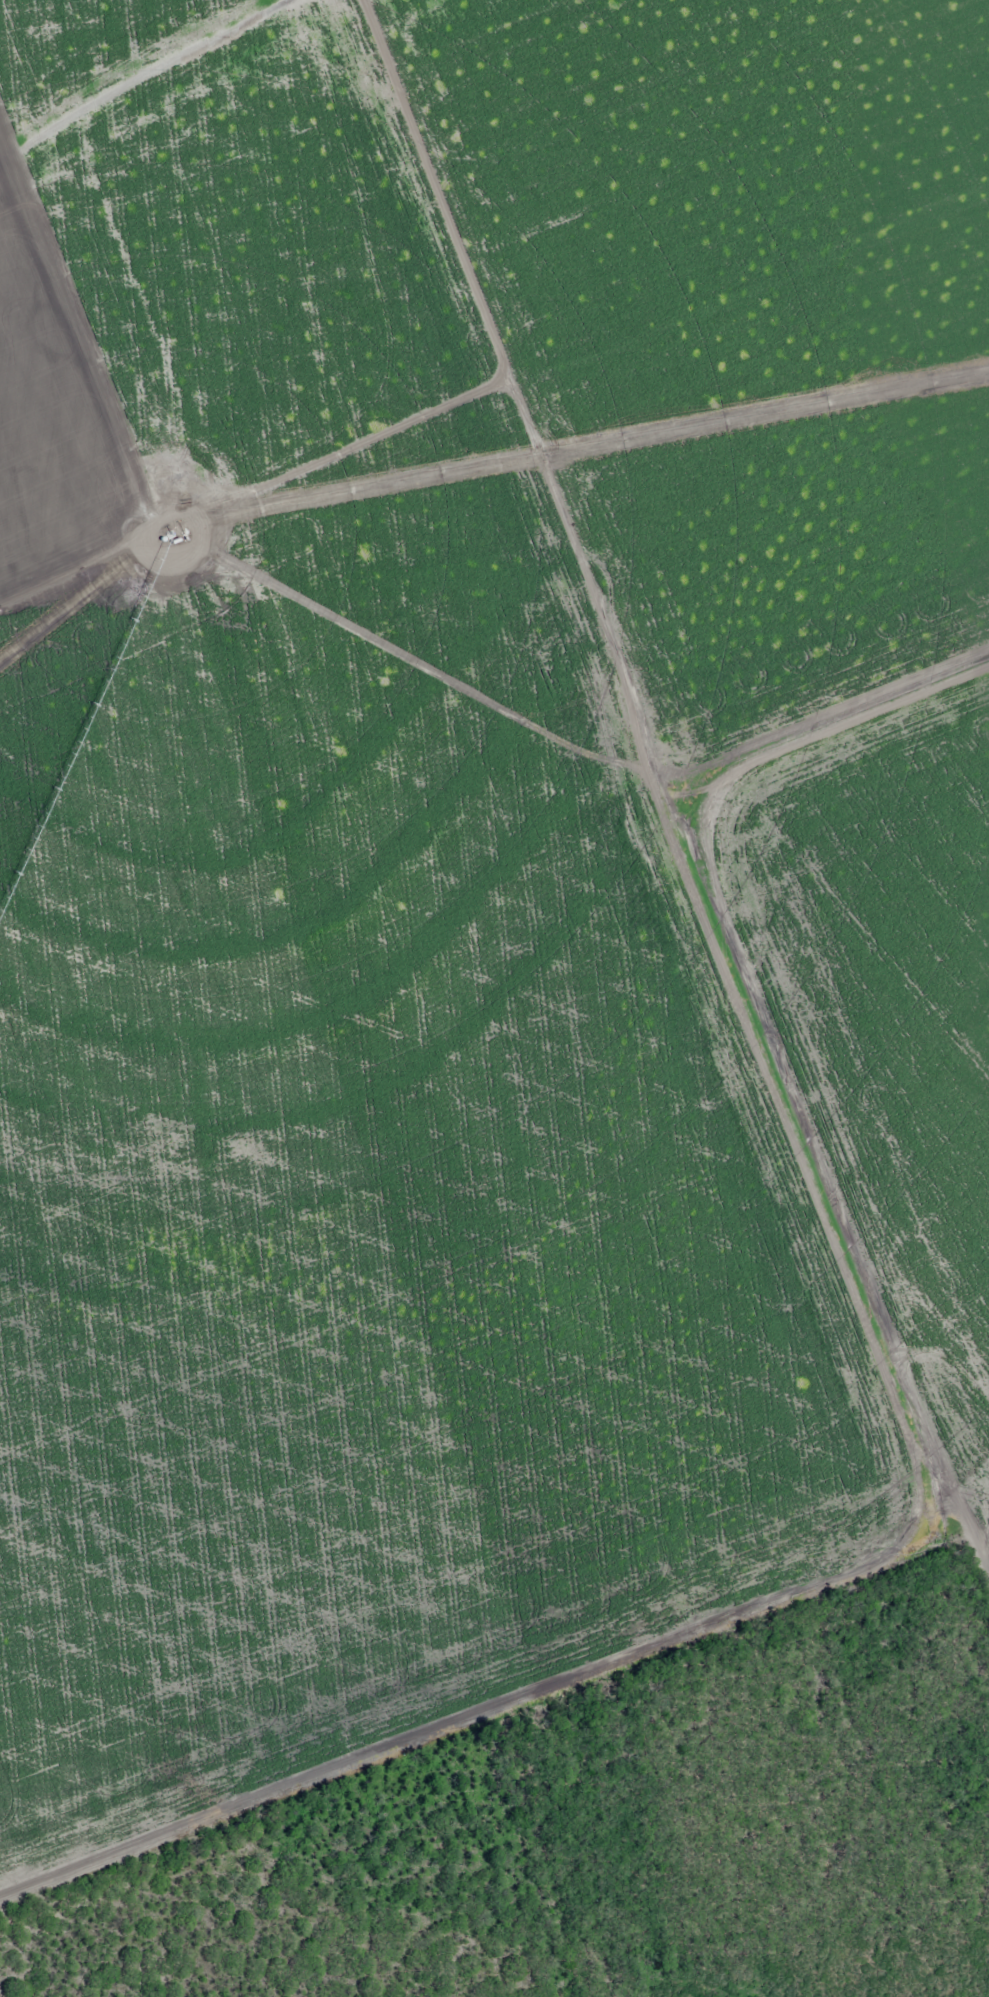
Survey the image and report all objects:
road: (770, 1026)

